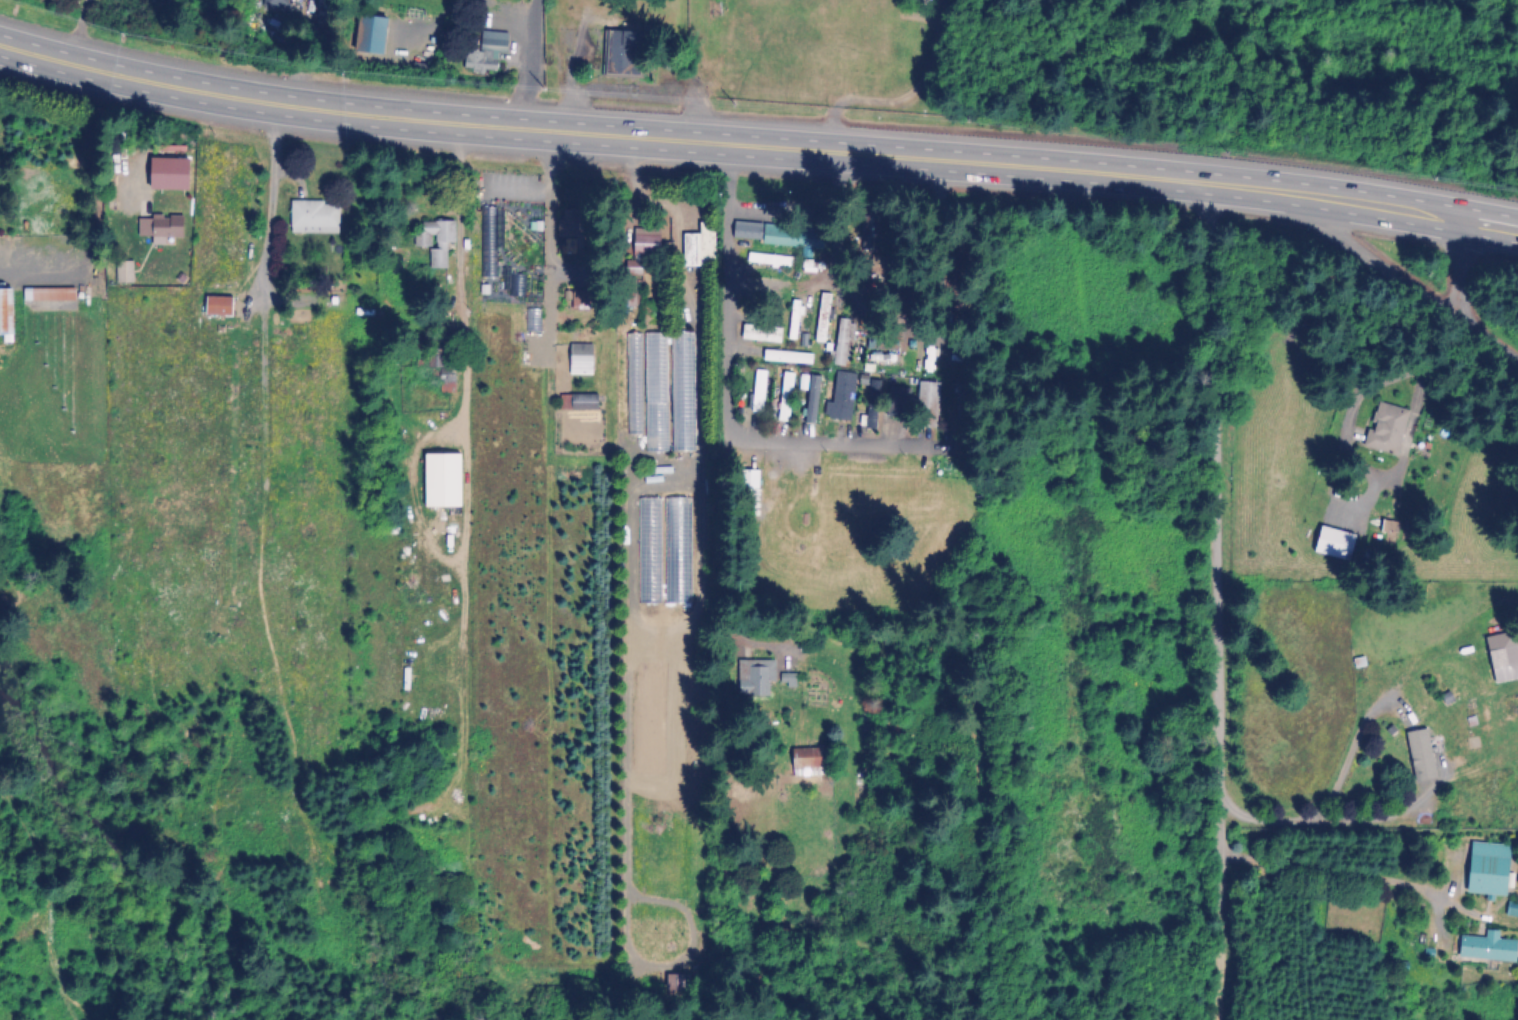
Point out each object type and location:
building: (275, 5)
building: (367, 36)
building: (484, 53)
building: (621, 55)
road: (529, 66)
road: (133, 85)
road: (362, 117)
road: (885, 159)
road: (536, 181)
road: (265, 209)
road: (1393, 210)
building: (313, 218)
road: (98, 219)
road: (1494, 226)
building: (774, 237)
building: (436, 242)
building: (698, 248)
building: (769, 259)
road: (1390, 262)
road: (1462, 273)
building: (124, 274)
road: (453, 275)
building: (753, 282)
building: (47, 296)
building: (4, 314)
building: (821, 324)
building: (770, 329)
building: (842, 343)
road: (1492, 343)
building: (881, 344)
building: (579, 359)
building: (885, 365)
building: (656, 368)
building: (443, 375)
building: (761, 384)
building: (635, 385)
building: (682, 392)
road: (728, 394)
building: (813, 395)
building: (842, 397)
building: (901, 399)
building: (576, 403)
building: (872, 404)
building: (927, 408)
building: (1384, 429)
building: (747, 481)
building: (439, 482)
road: (1376, 496)
building: (1331, 544)
road: (1215, 600)
building: (1494, 660)
building: (753, 684)
building: (1412, 758)
building: (804, 759)
road: (1440, 781)
building: (1484, 868)
road: (1330, 873)
building: (1512, 909)
building: (1366, 931)
building: (1485, 947)

